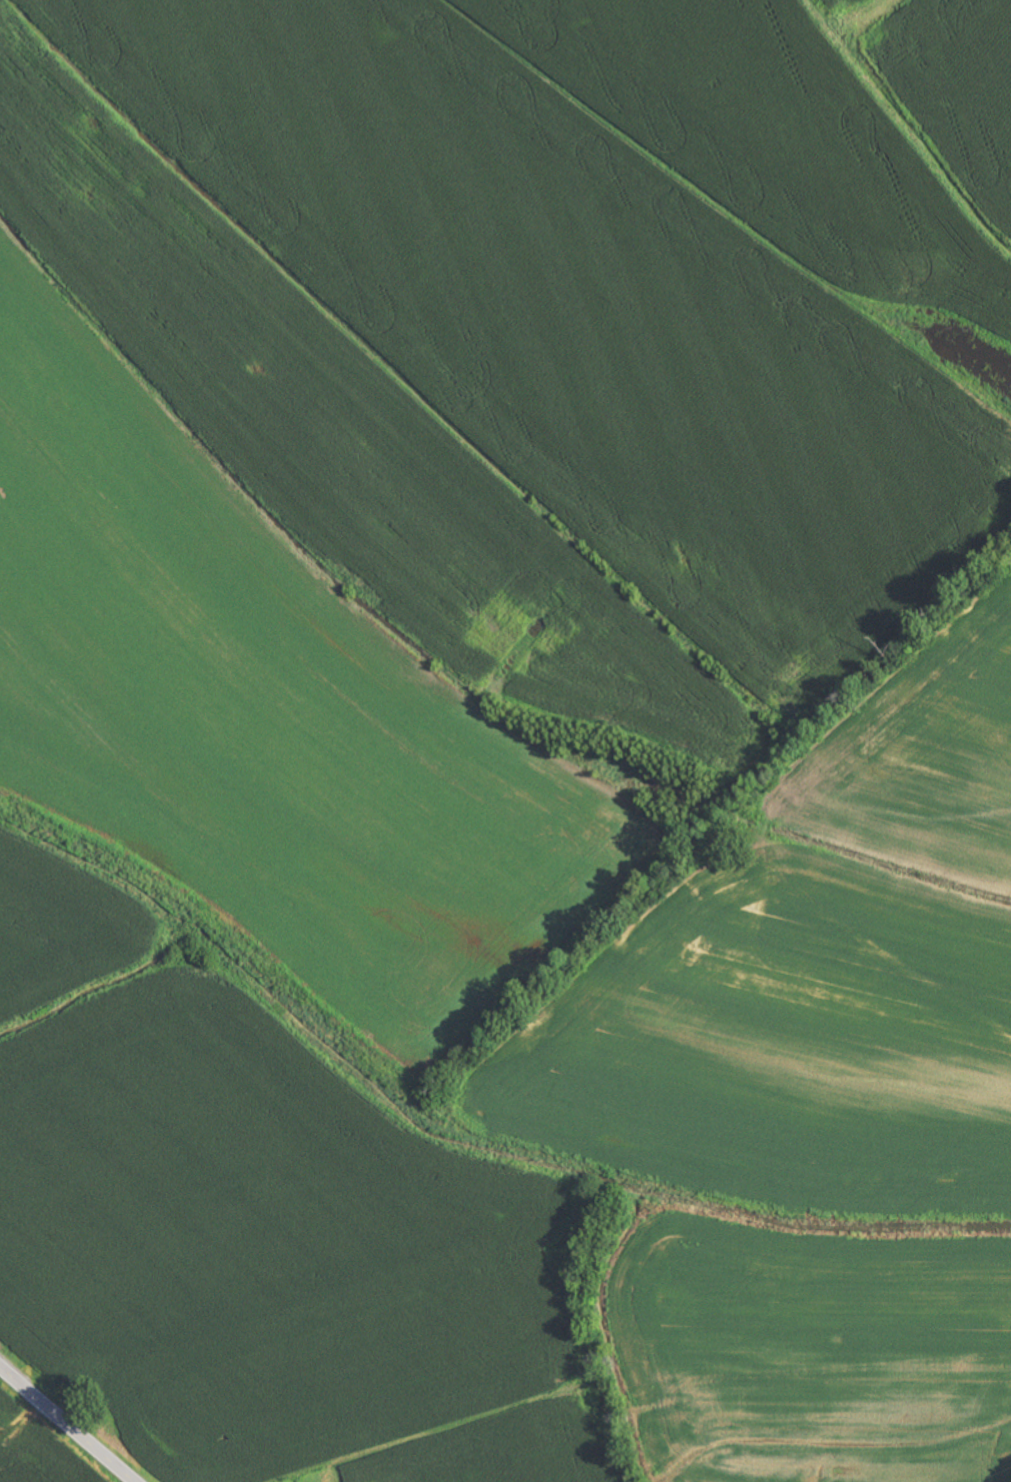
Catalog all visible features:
road: (67, 1424)

